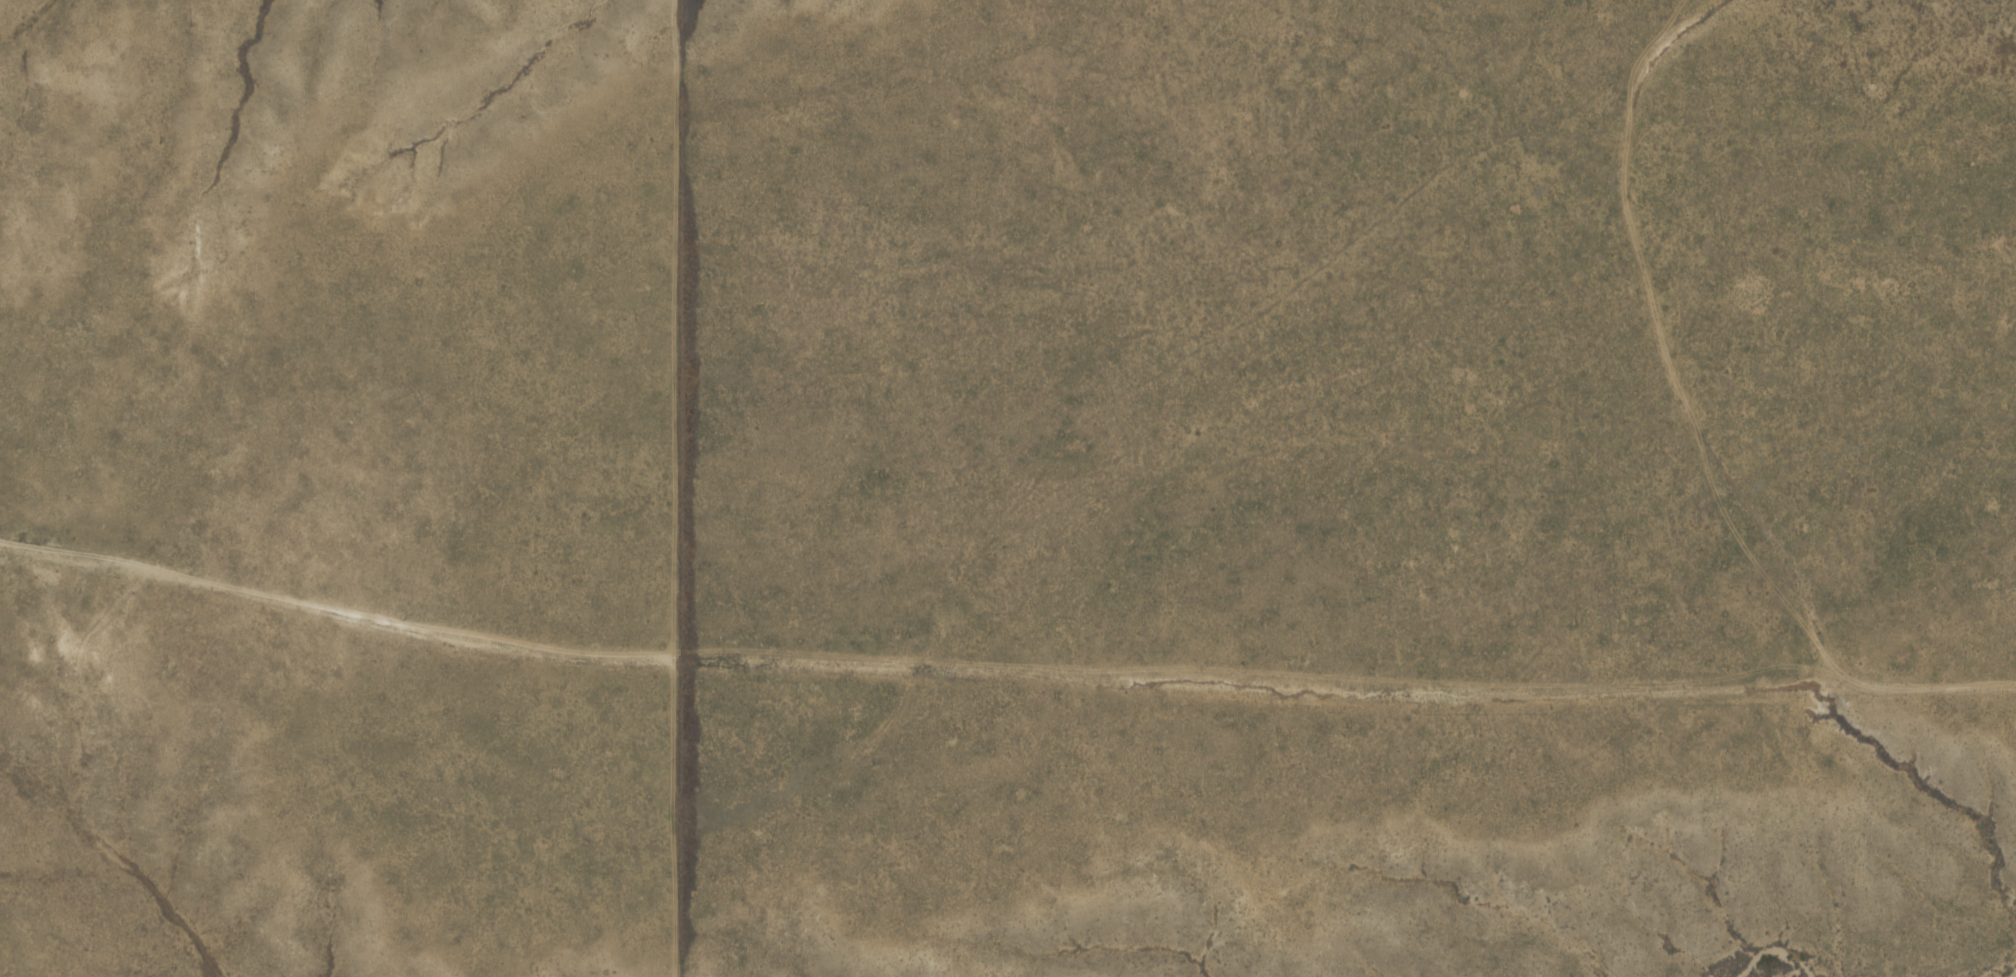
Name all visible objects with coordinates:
road: (1689, 423)

